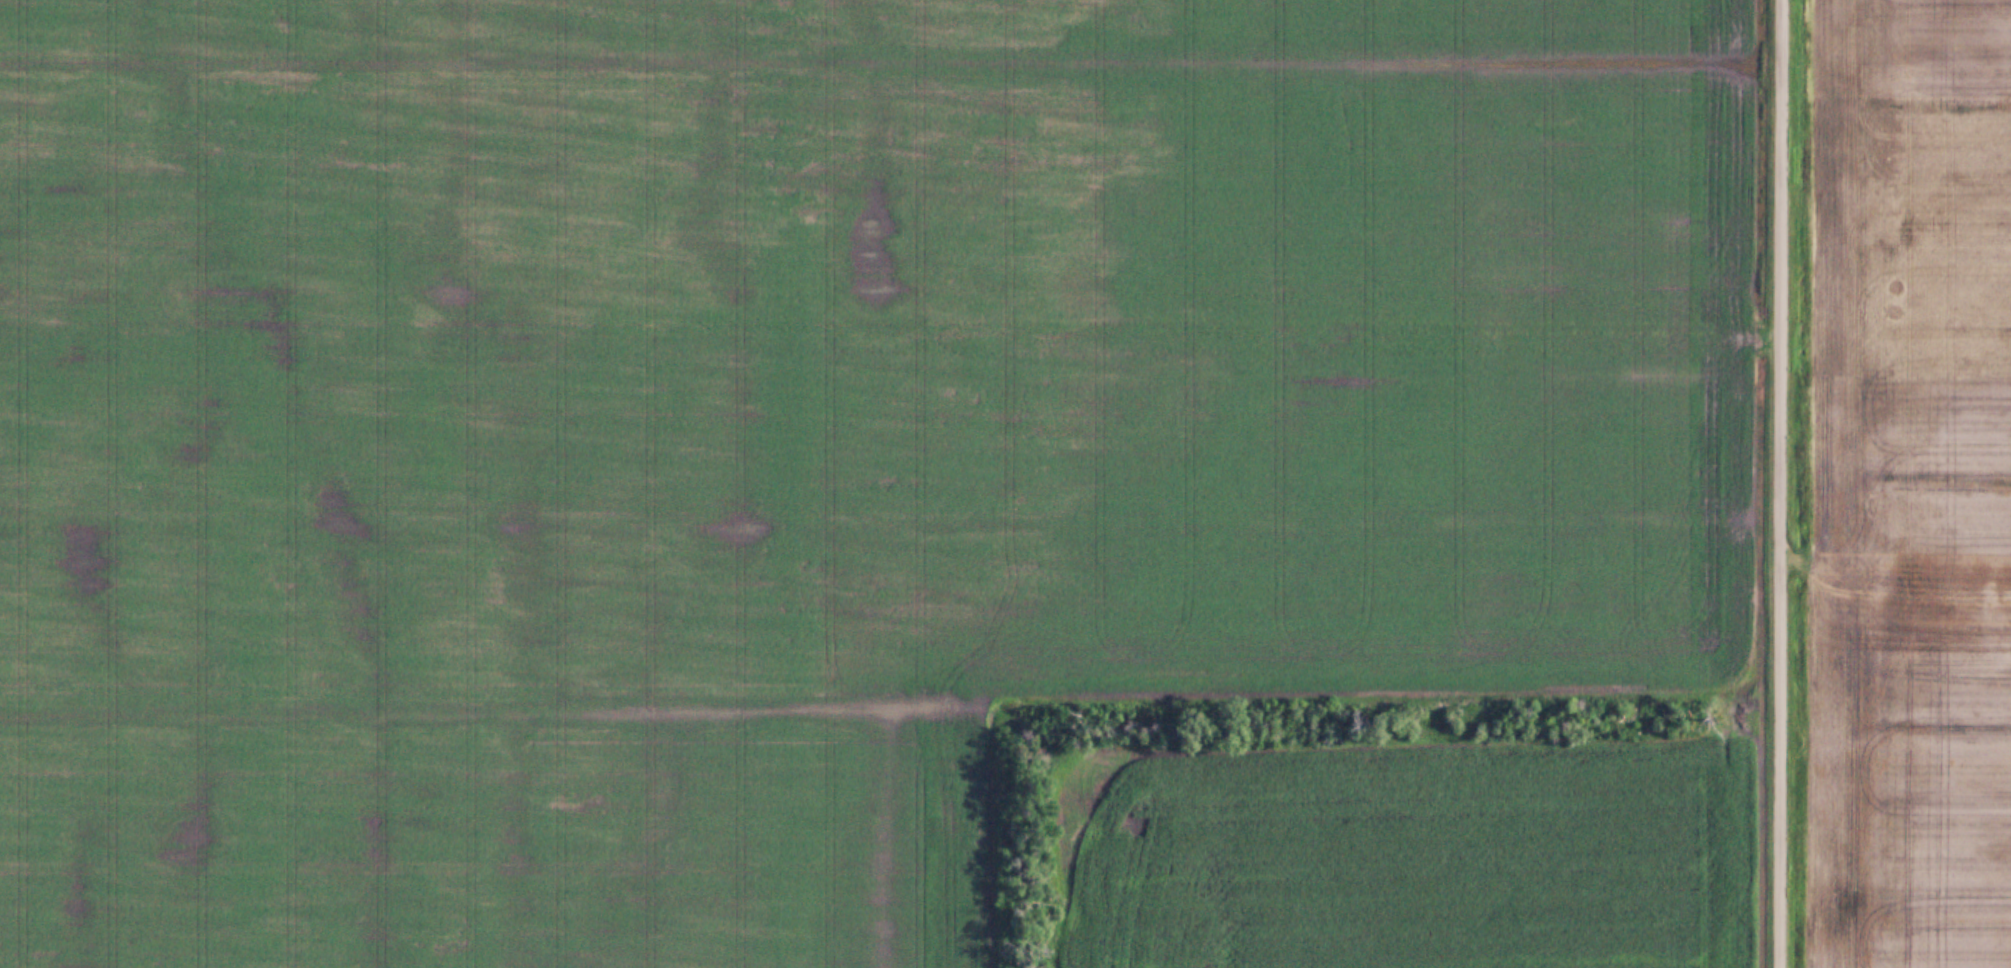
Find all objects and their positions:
road: (1784, 484)

